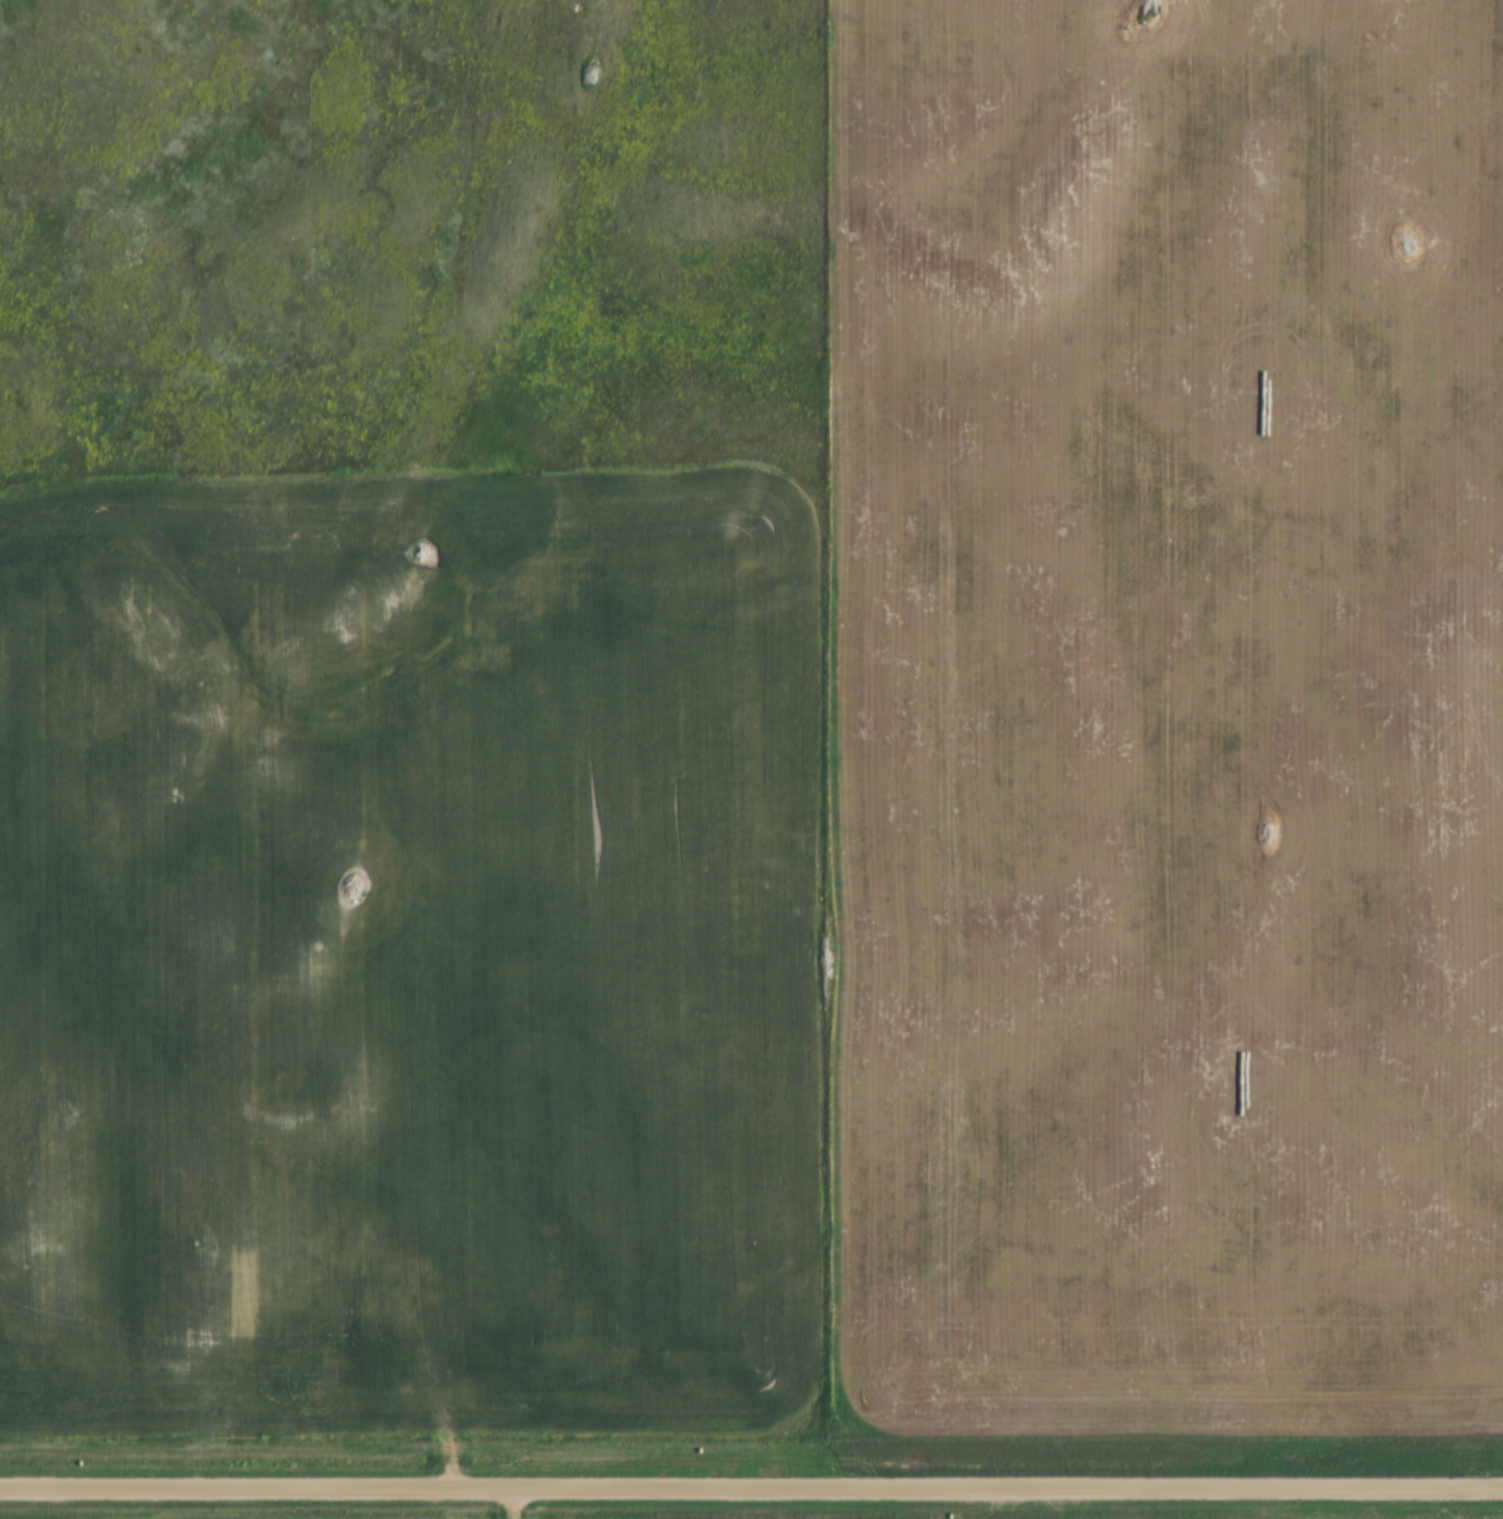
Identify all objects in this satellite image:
road: (751, 1485)

